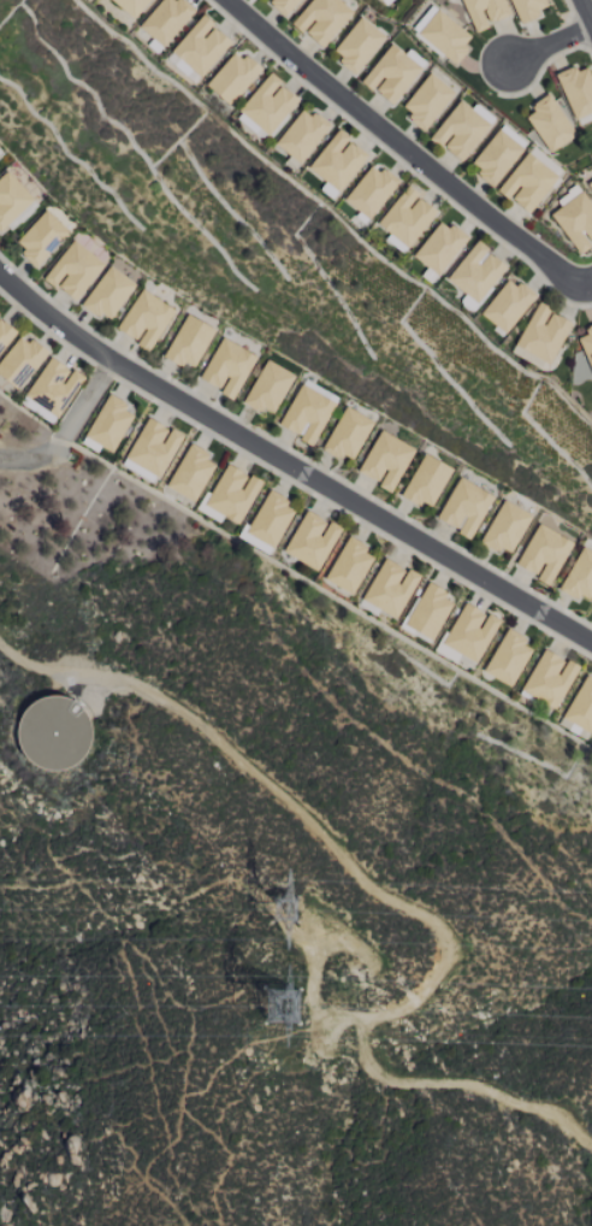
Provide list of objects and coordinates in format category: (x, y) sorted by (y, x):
building: (380, 0)
building: (284, 5)
building: (131, 6)
building: (528, 8)
road: (586, 10)
building: (484, 12)
building: (166, 19)
building: (321, 19)
building: (444, 36)
road: (550, 43)
building: (357, 45)
building: (201, 46)
building: (391, 73)
building: (232, 77)
building: (576, 89)
building: (427, 100)
building: (267, 104)
building: (549, 123)
building: (460, 130)
building: (302, 135)
road: (407, 148)
building: (496, 157)
building: (337, 160)
building: (527, 182)
building: (371, 190)
building: (12, 202)
building: (407, 217)
building: (575, 220)
building: (41, 237)
building: (440, 247)
building: (73, 270)
building: (476, 272)
building: (107, 294)
building: (508, 305)
building: (144, 319)
building: (543, 332)
building: (5, 334)
building: (189, 342)
building: (587, 344)
building: (20, 361)
building: (227, 367)
building: (268, 388)
building: (51, 389)
road: (84, 403)
building: (307, 413)
building: (108, 423)
building: (347, 434)
building: (153, 447)
building: (386, 460)
road: (289, 466)
building: (191, 472)
building: (426, 481)
building: (232, 493)
building: (464, 507)
building: (270, 518)
building: (505, 527)
building: (312, 540)
building: (544, 554)
building: (349, 566)
building: (580, 576)
building: (390, 588)
building: (427, 611)
building: (470, 631)
building: (508, 656)
building: (549, 678)
building: (581, 706)
building: (573, 729)
water tower: (54, 731)
road: (392, 898)
power tower: (298, 910)
power tower: (285, 1012)

